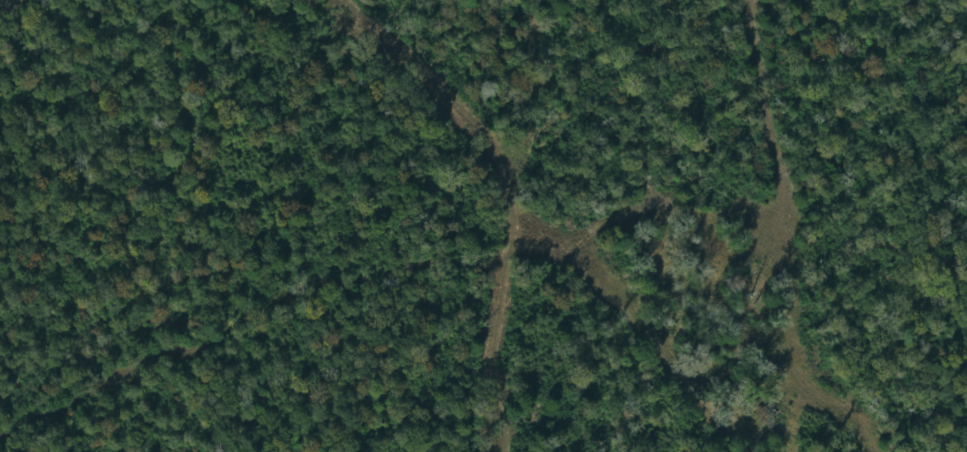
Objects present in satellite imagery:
road: (753, 82)

